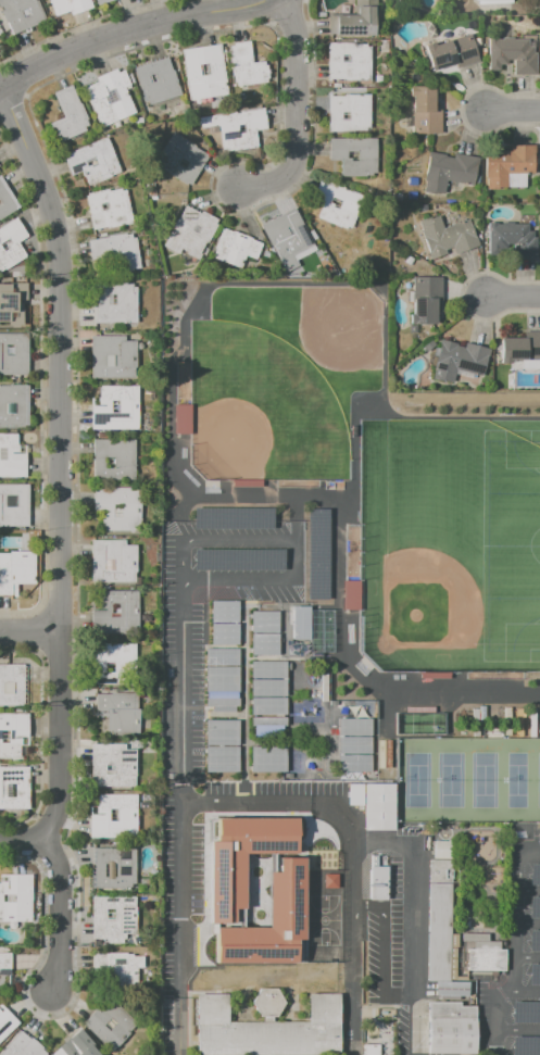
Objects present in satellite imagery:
building: (493, 1)
building: (102, 2)
building: (71, 5)
building: (21, 14)
building: (355, 21)
road: (129, 33)
building: (451, 54)
building: (512, 56)
building: (349, 62)
building: (244, 67)
building: (204, 73)
building: (156, 83)
building: (110, 99)
road: (297, 111)
road: (515, 111)
building: (424, 112)
building: (350, 114)
building: (70, 115)
building: (238, 128)
building: (354, 156)
building: (97, 160)
building: (185, 160)
building: (508, 164)
building: (448, 171)
building: (5, 199)
building: (342, 203)
building: (112, 208)
building: (193, 233)
building: (445, 237)
building: (291, 238)
building: (512, 239)
building: (12, 246)
building: (120, 249)
building: (240, 251)
road: (515, 296)
building: (425, 300)
building: (15, 303)
building: (120, 303)
park: (325, 341)
building: (429, 347)
building: (519, 349)
building: (15, 353)
building: (116, 357)
building: (459, 362)
road: (472, 403)
building: (14, 405)
park: (260, 409)
building: (120, 410)
building: (183, 418)
building: (12, 457)
building: (117, 460)
road: (63, 461)
building: (247, 483)
building: (15, 505)
building: (123, 508)
building: (233, 518)
park: (461, 533)
road: (294, 540)
park: (511, 545)
building: (318, 554)
building: (239, 560)
building: (116, 562)
building: (17, 570)
building: (351, 594)
building: (120, 612)
building: (224, 612)
building: (264, 621)
building: (300, 623)
road: (32, 630)
building: (224, 633)
building: (264, 644)
road: (274, 658)
building: (118, 665)
building: (435, 674)
building: (284, 678)
building: (222, 679)
building: (13, 687)
road: (246, 696)
building: (267, 705)
building: (124, 713)
road: (213, 715)
building: (419, 720)
building: (267, 725)
building: (221, 732)
building: (14, 734)
building: (353, 744)
building: (221, 759)
building: (267, 759)
building: (113, 766)
park: (467, 778)
building: (13, 789)
road: (181, 789)
building: (356, 794)
parking lot: (248, 800)
building: (379, 806)
building: (114, 816)
building: (537, 833)
road: (398, 838)
road: (21, 844)
building: (240, 858)
building: (114, 868)
building: (535, 874)
building: (378, 883)
road: (527, 892)
building: (15, 897)
road: (376, 901)
building: (533, 907)
road: (514, 909)
road: (58, 915)
building: (112, 917)
building: (268, 921)
building: (441, 922)
park: (317, 924)
parking lot: (401, 925)
road: (527, 925)
building: (533, 940)
road: (351, 945)
building: (380, 950)
parking lot: (514, 954)
building: (486, 959)
road: (526, 960)
building: (4, 965)
building: (116, 968)
building: (533, 975)
road: (526, 992)
road: (513, 1008)
building: (525, 1012)
road: (497, 1016)
building: (5, 1023)
building: (110, 1025)
road: (179, 1027)
building: (266, 1027)
building: (450, 1027)
road: (518, 1029)
building: (22, 1046)
building: (76, 1046)
building: (525, 1046)
building: (369, 1050)

